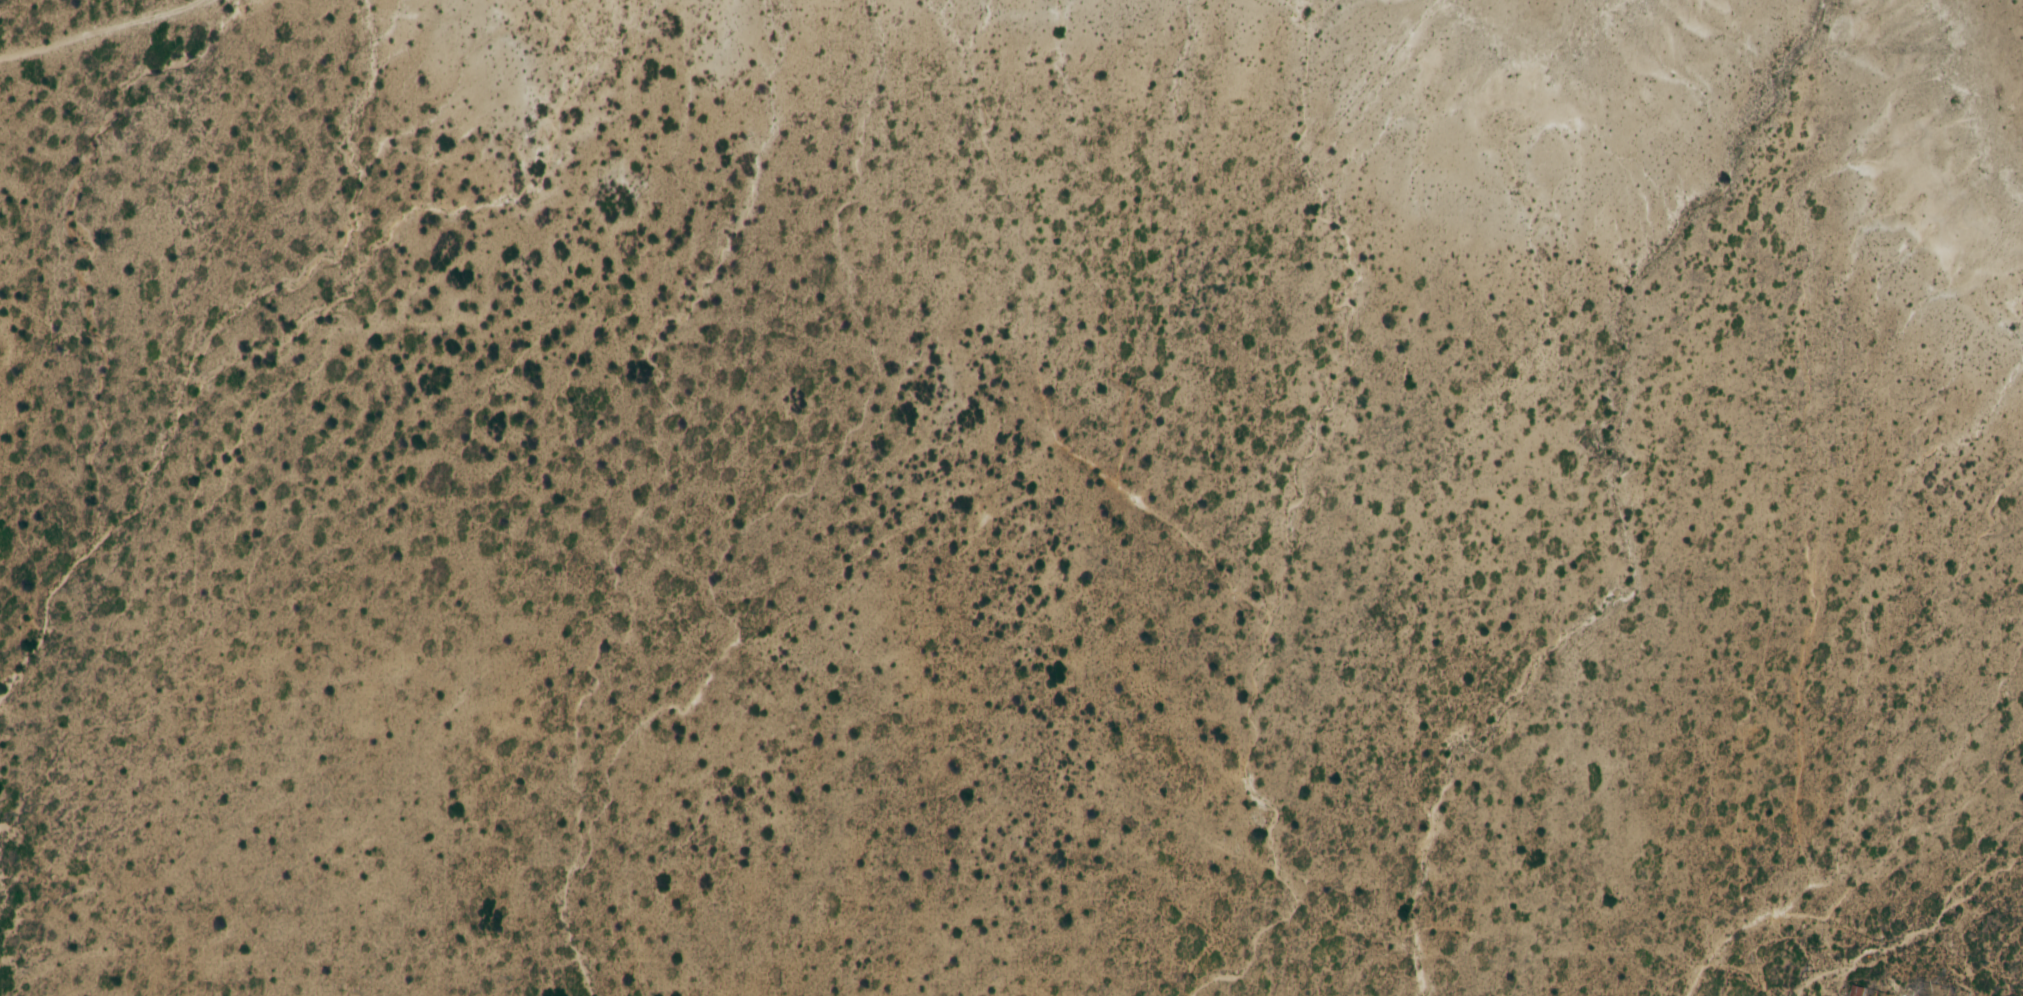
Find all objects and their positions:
road: (95, 23)

